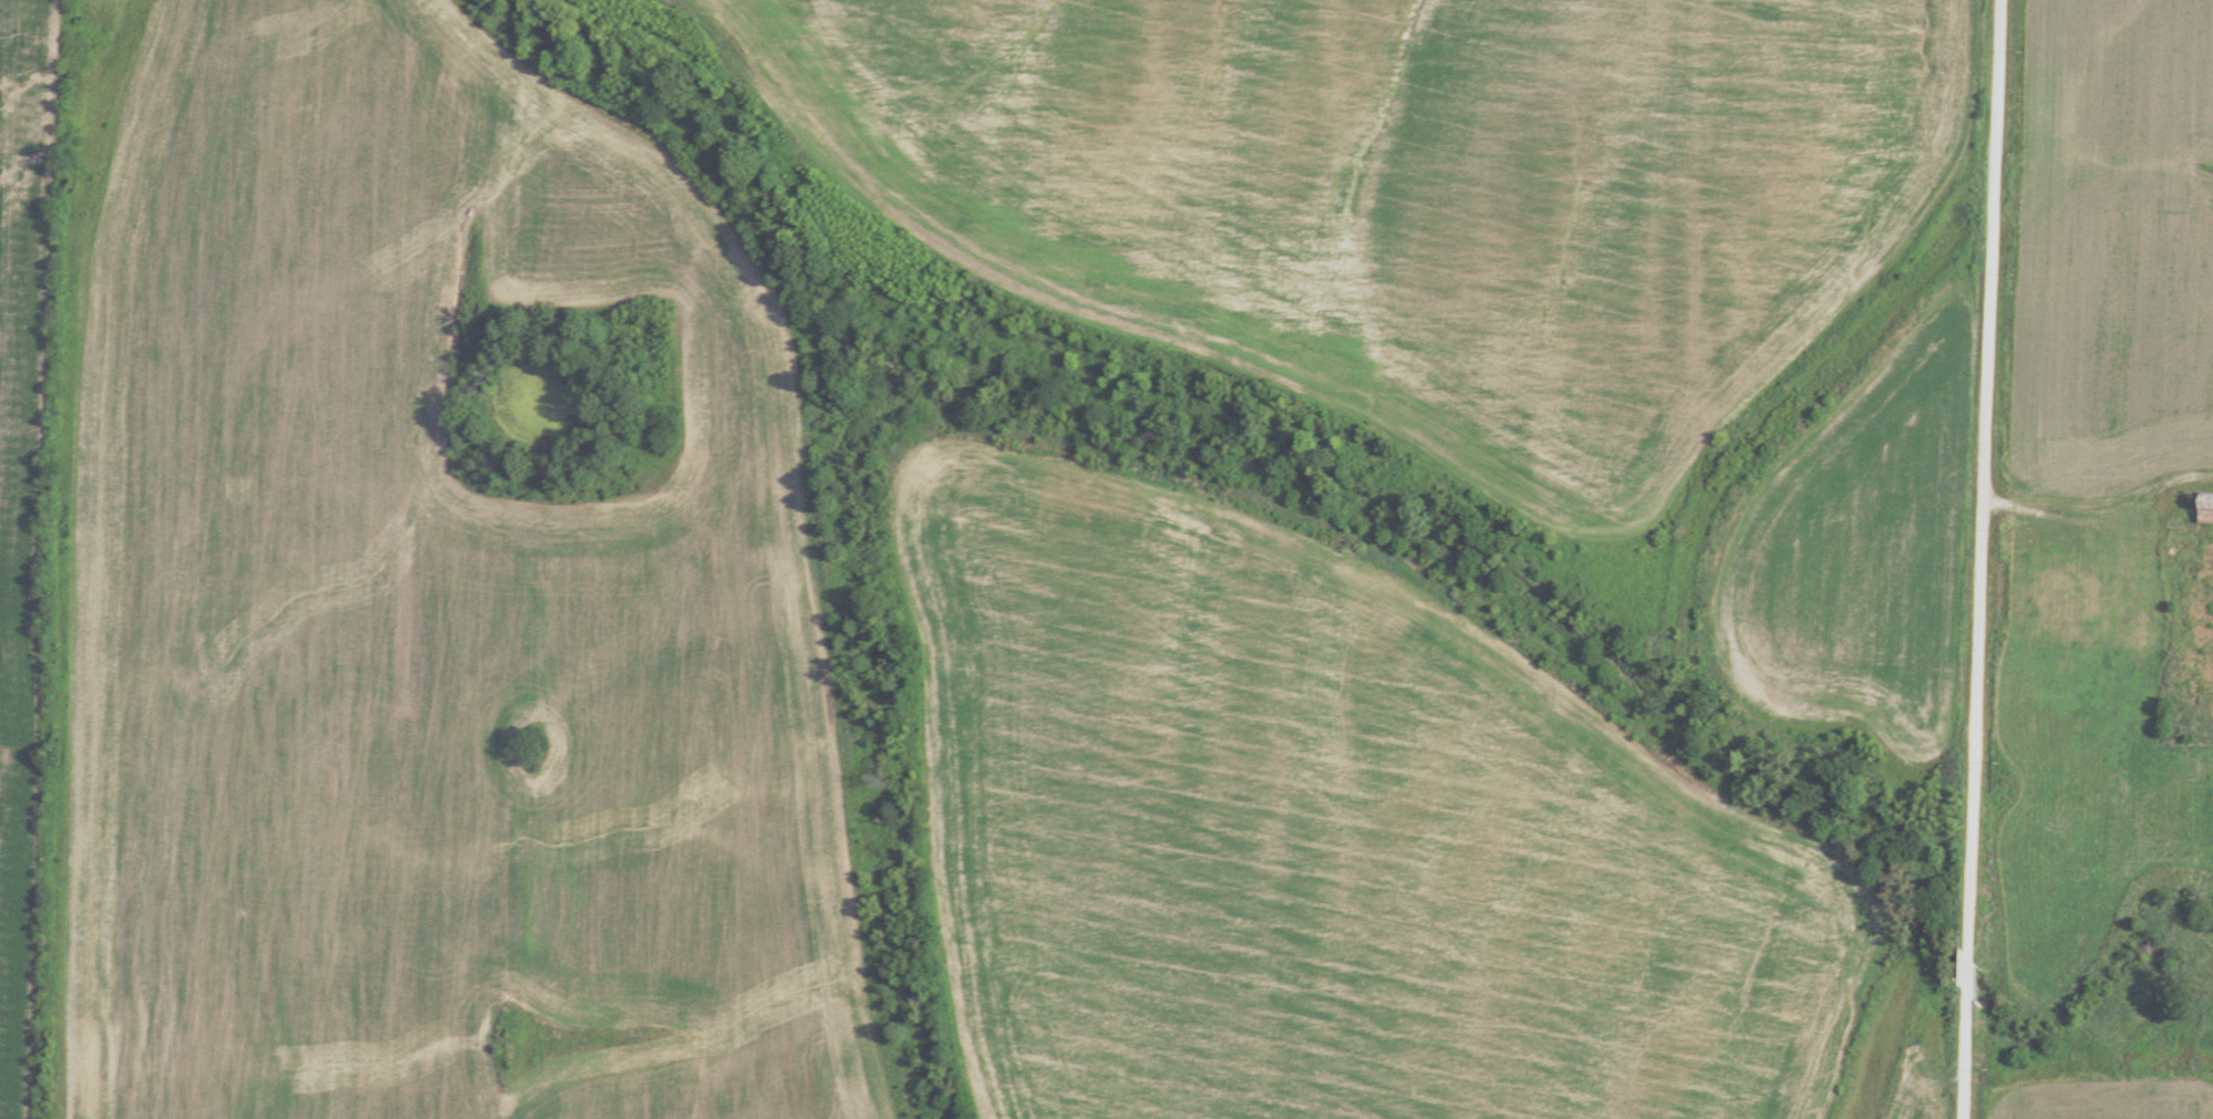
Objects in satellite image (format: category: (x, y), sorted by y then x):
building: (2204, 507)
road: (2099, 511)
road: (1979, 559)
building: (2109, 580)
building: (2052, 588)
road: (2000, 1078)
road: (2038, 1113)

